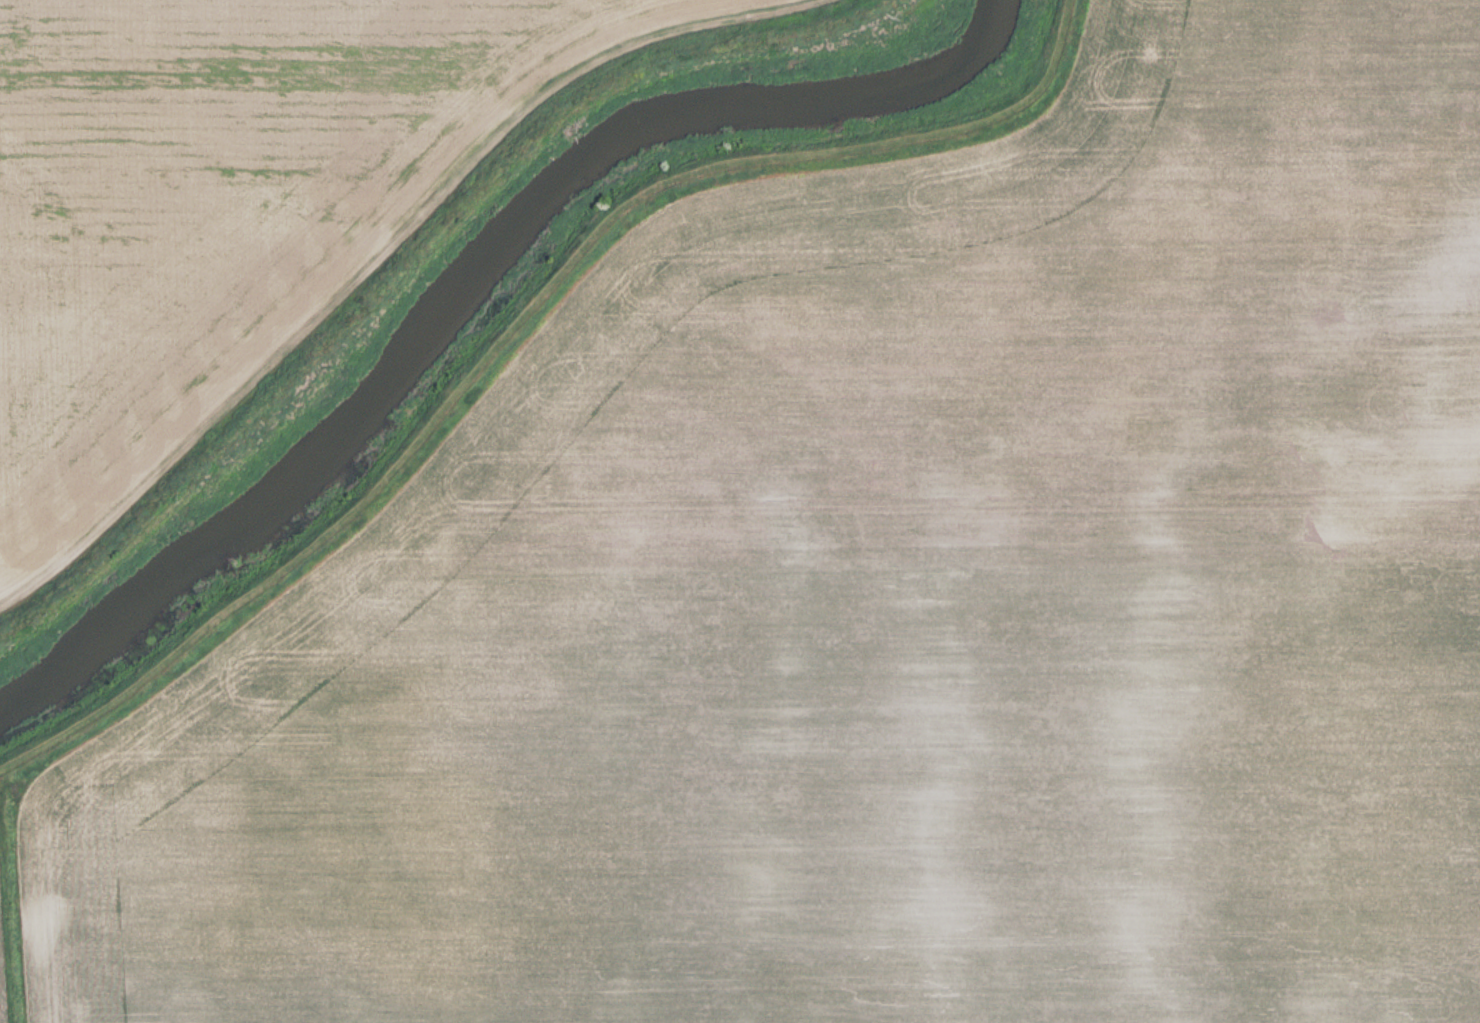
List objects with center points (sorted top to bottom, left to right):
road: (387, 253)
river: (469, 286)

